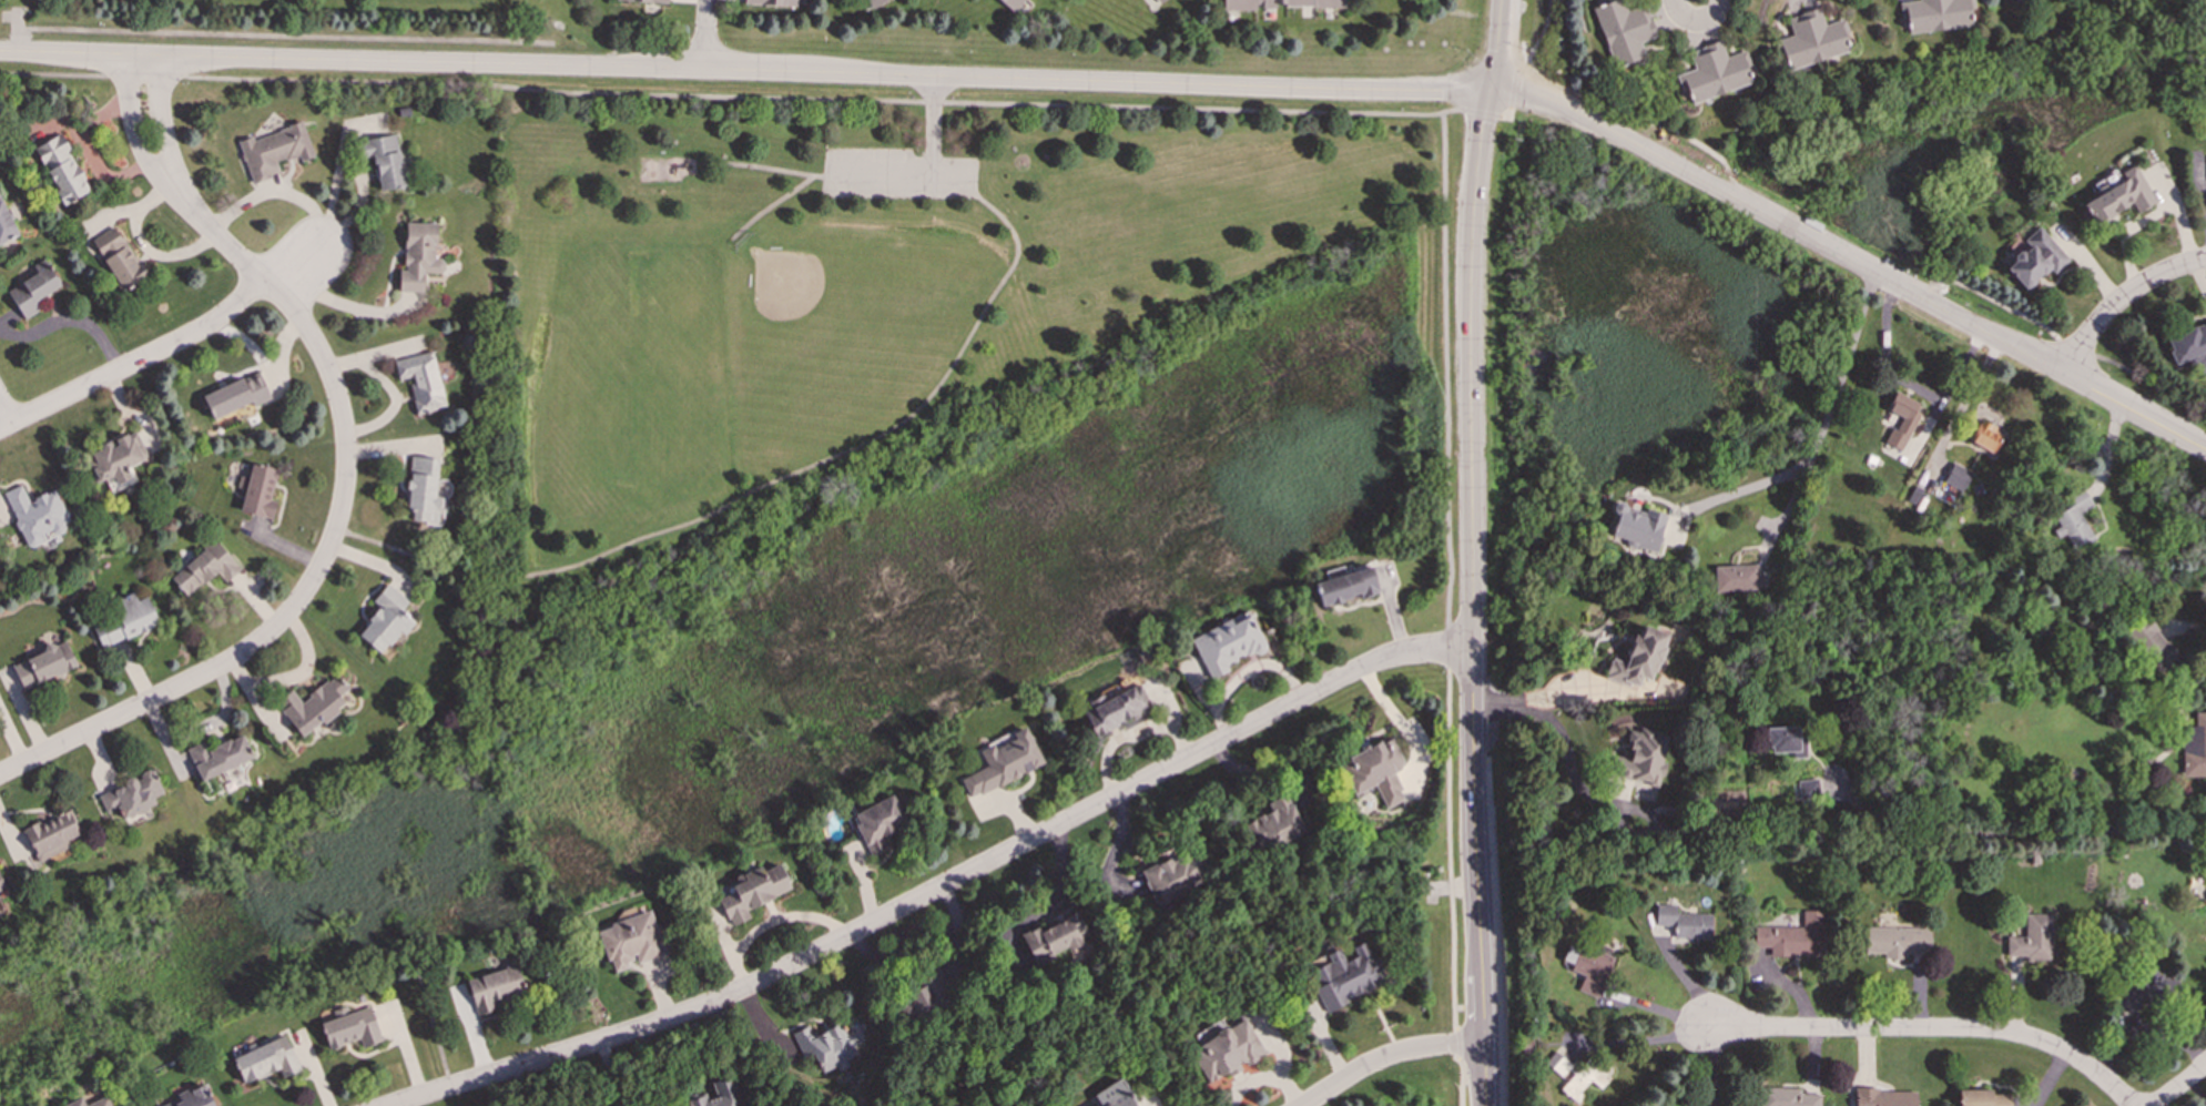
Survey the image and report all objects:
building: (2014, 0)
building: (645, 1)
building: (1156, 1)
building: (771, 2)
building: (873, 2)
building: (1011, 3)
building: (1278, 3)
building: (1935, 14)
road: (1697, 20)
building: (1623, 30)
road: (705, 34)
road: (1541, 34)
building: (1812, 39)
building: (1714, 72)
road: (1148, 84)
road: (1515, 85)
road: (729, 99)
road: (1478, 112)
road: (162, 116)
road: (1509, 119)
road: (133, 121)
road: (933, 126)
building: (273, 151)
building: (384, 161)
building: (61, 169)
road: (775, 171)
road: (903, 176)
parking lot: (897, 177)
building: (2118, 196)
road: (773, 209)
building: (6, 225)
road: (1857, 251)
building: (418, 256)
building: (119, 258)
building: (2035, 258)
road: (2198, 277)
park: (785, 283)
building: (33, 288)
road: (2121, 298)
building: (2188, 345)
road: (167, 348)
park: (631, 372)
building: (421, 380)
building: (235, 395)
road: (4, 413)
building: (1901, 419)
road: (1823, 429)
park: (994, 436)
building: (1986, 437)
building: (118, 460)
building: (1958, 477)
road: (765, 488)
building: (425, 490)
building: (260, 491)
building: (37, 515)
building: (2074, 519)
building: (1638, 527)
road: (333, 535)
road: (1472, 551)
building: (205, 568)
building: (1737, 578)
building: (1344, 587)
road: (1447, 609)
building: (129, 620)
building: (386, 620)
building: (1227, 643)
building: (2149, 643)
building: (1638, 658)
building: (44, 664)
building: (313, 706)
building: (1118, 711)
building: (1787, 740)
building: (218, 755)
building: (1640, 757)
building: (1004, 763)
building: (1374, 771)
building: (1811, 789)
building: (132, 795)
building: (876, 824)
building: (51, 835)
road: (1805, 840)
building: (1173, 876)
building: (1, 884)
road: (938, 889)
building: (751, 892)
building: (1685, 922)
road: (1497, 933)
building: (1054, 937)
building: (1796, 937)
building: (2032, 938)
building: (630, 941)
building: (1897, 941)
road: (917, 942)
building: (1588, 965)
building: (1343, 975)
building: (494, 988)
building: (2148, 990)
building: (350, 1027)
road: (1933, 1029)
building: (826, 1045)
building: (1226, 1051)
road: (1390, 1056)
building: (266, 1059)
building: (1557, 1062)
building: (1584, 1079)
road: (2179, 1086)
building: (718, 1094)
building: (1112, 1095)
building: (1789, 1097)
building: (1885, 1097)
building: (1982, 1098)
building: (193, 1099)
building: (100, 1102)
building: (75, 1103)

